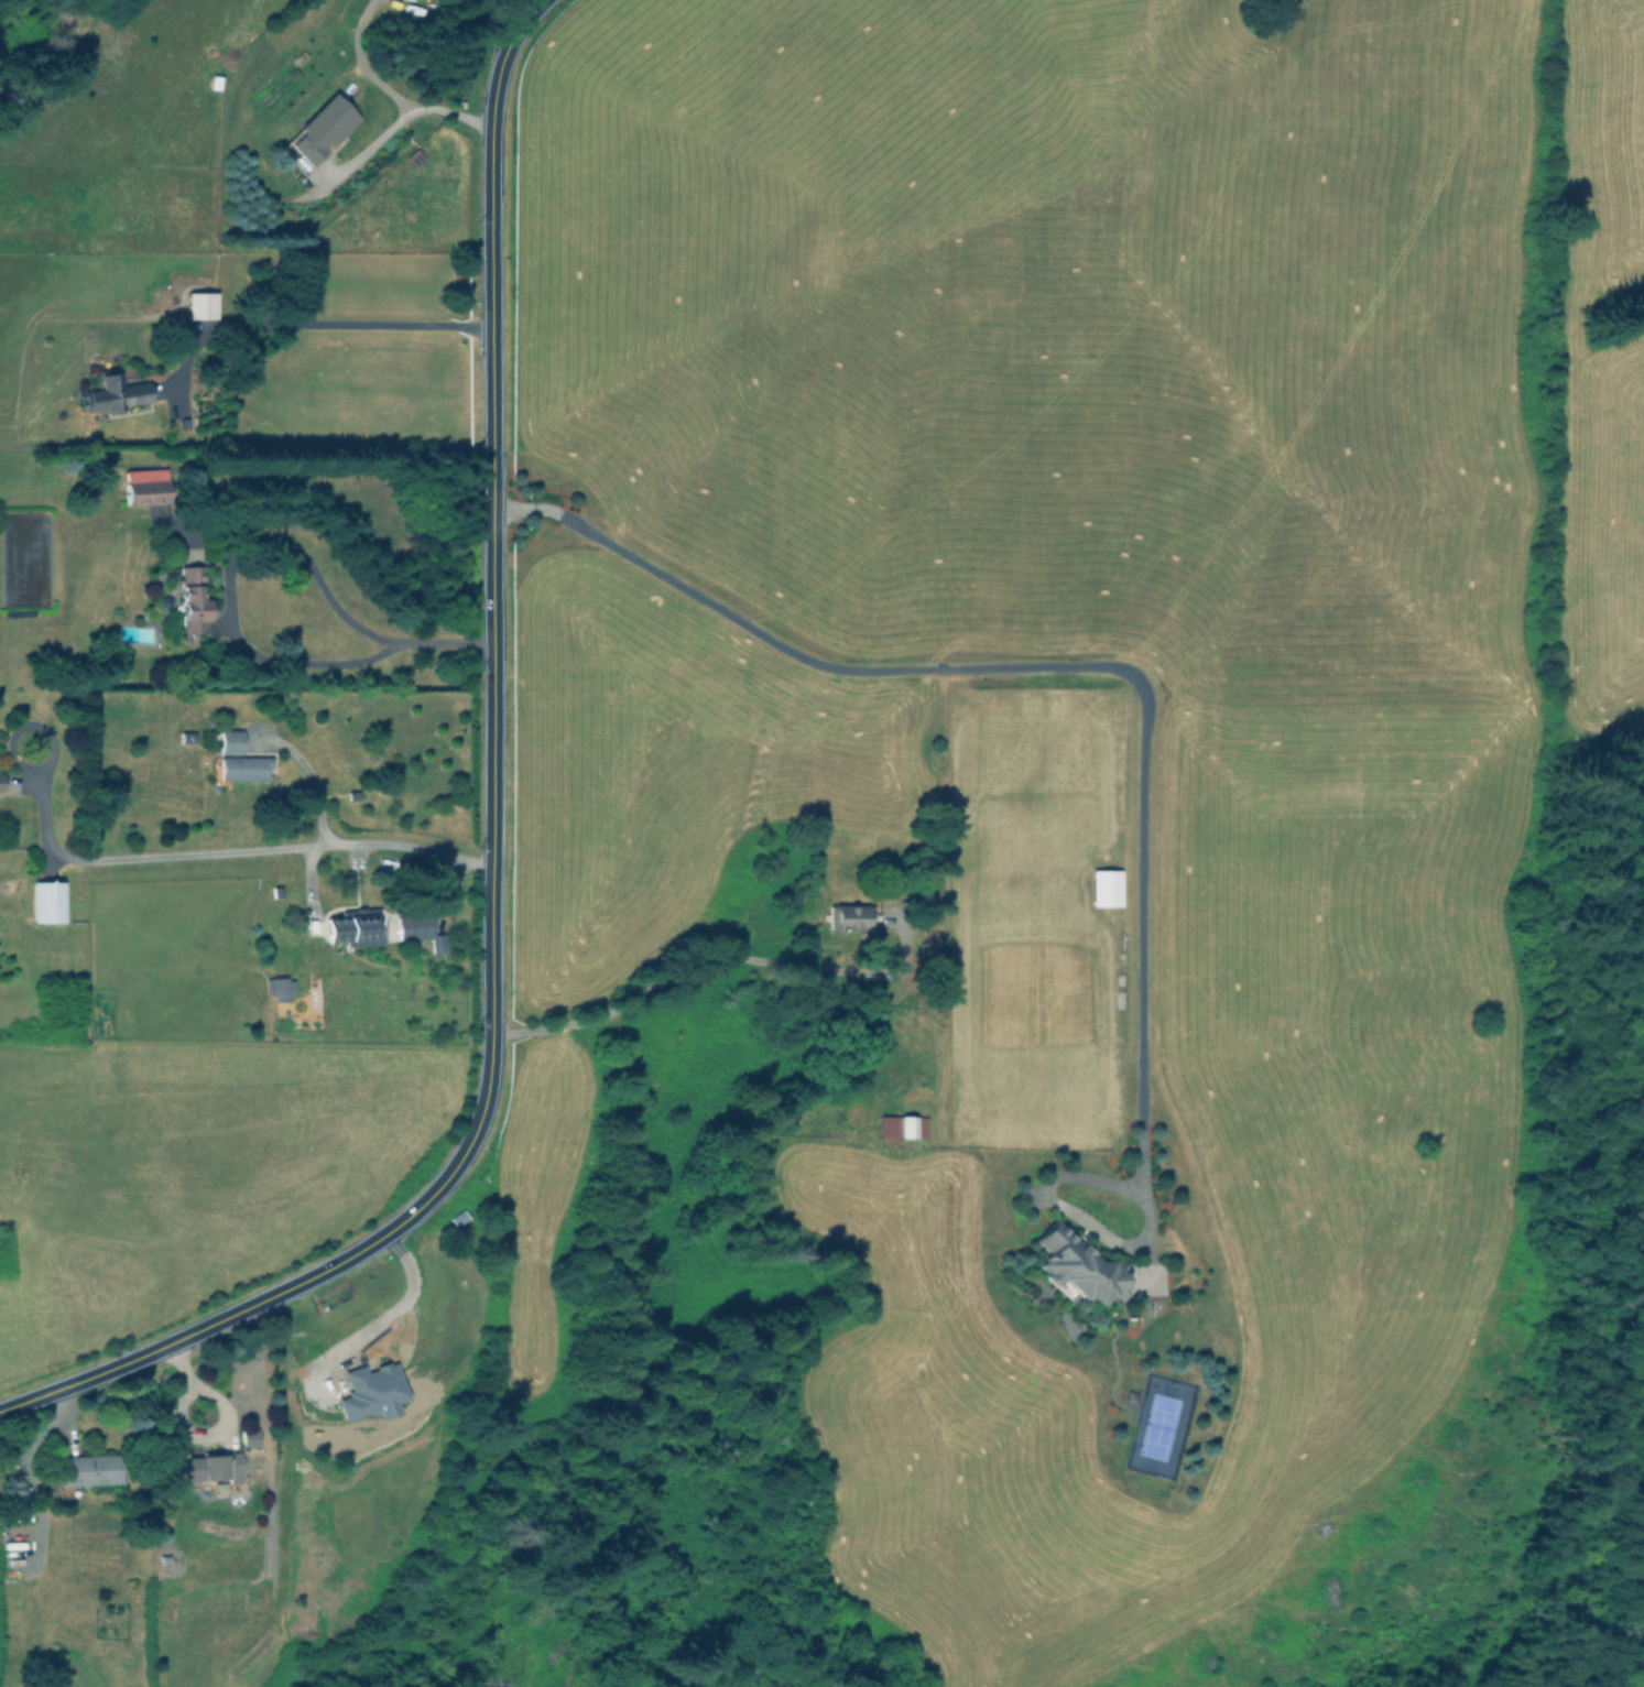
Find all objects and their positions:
road: (524, 19)
road: (390, 92)
building: (319, 130)
road: (367, 150)
building: (199, 305)
road: (311, 323)
building: (113, 394)
building: (144, 487)
road: (493, 535)
road: (254, 540)
building: (190, 600)
road: (1143, 728)
building: (230, 741)
building: (243, 768)
road: (312, 780)
road: (283, 849)
building: (1104, 886)
building: (47, 902)
building: (849, 915)
building: (353, 927)
building: (418, 930)
road: (716, 956)
building: (279, 988)
building: (901, 1127)
building: (1074, 1266)
road: (304, 1280)
building: (370, 1392)
building: (248, 1438)
building: (87, 1469)
building: (213, 1471)
building: (20, 1503)

